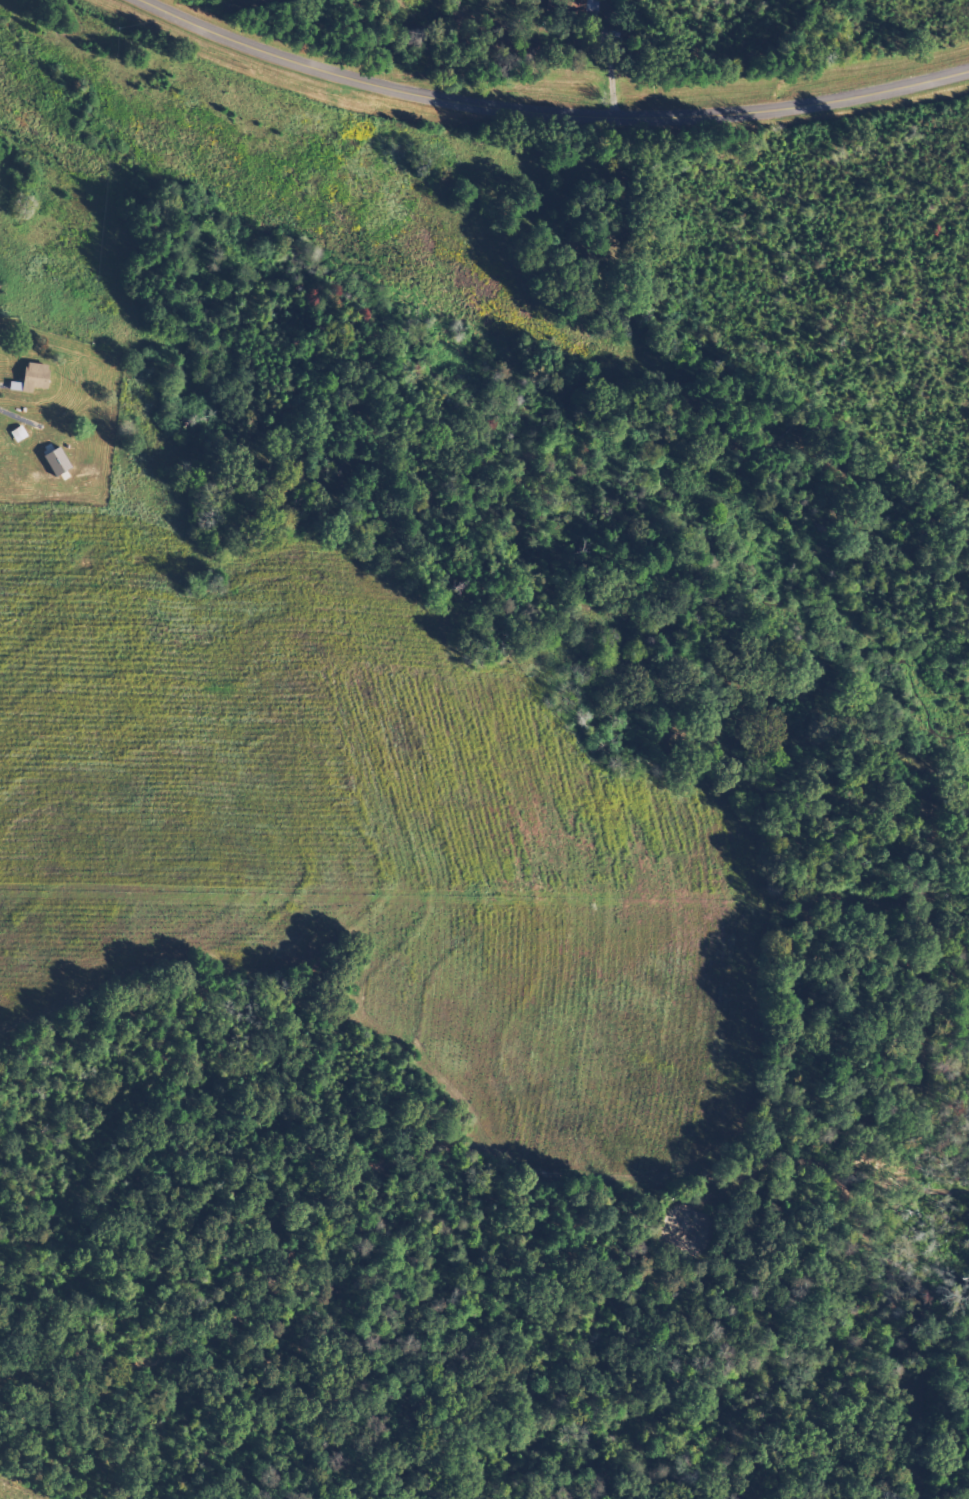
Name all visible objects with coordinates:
road: (547, 112)
building: (35, 377)
road: (6, 400)
building: (57, 463)

